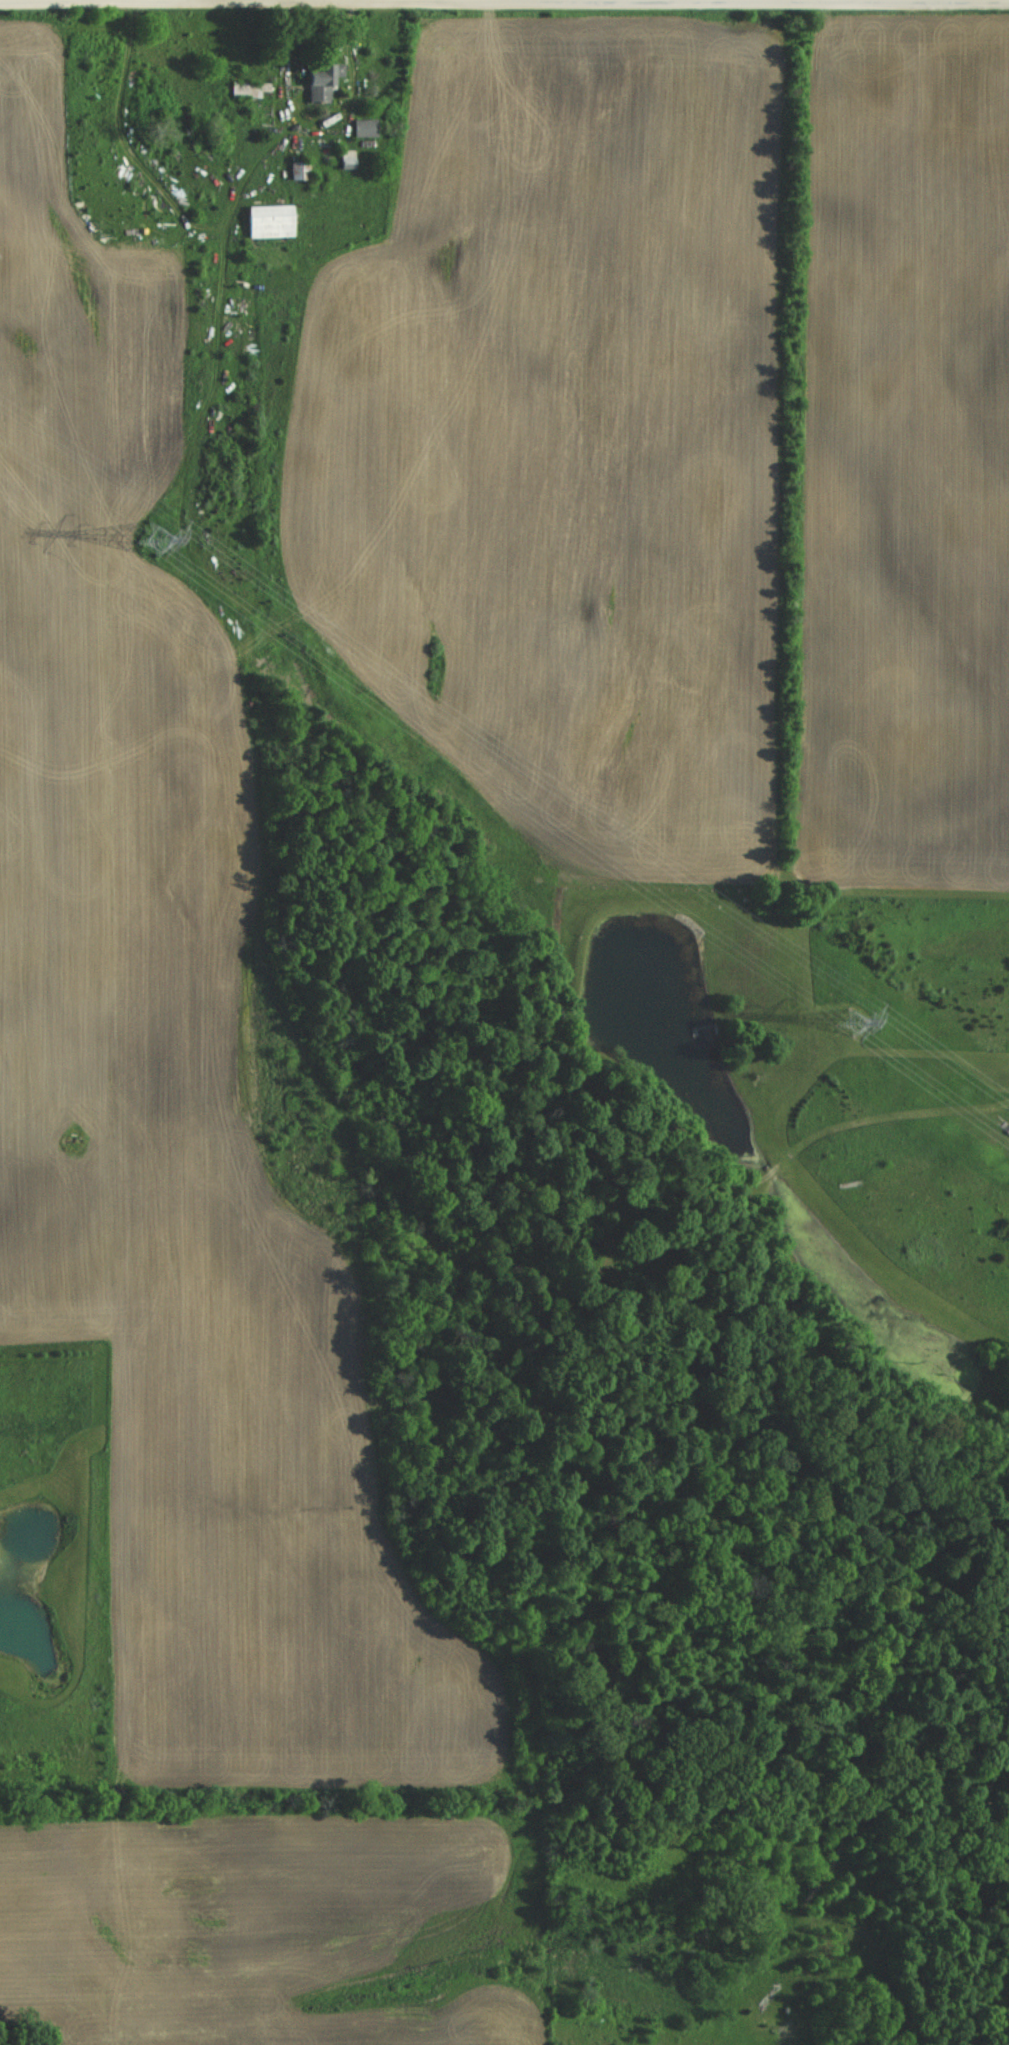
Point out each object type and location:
road: (504, 3)
building: (322, 82)
building: (250, 89)
building: (364, 128)
building: (346, 160)
building: (300, 170)
building: (270, 221)
power tower: (153, 543)
power tower: (848, 1022)

